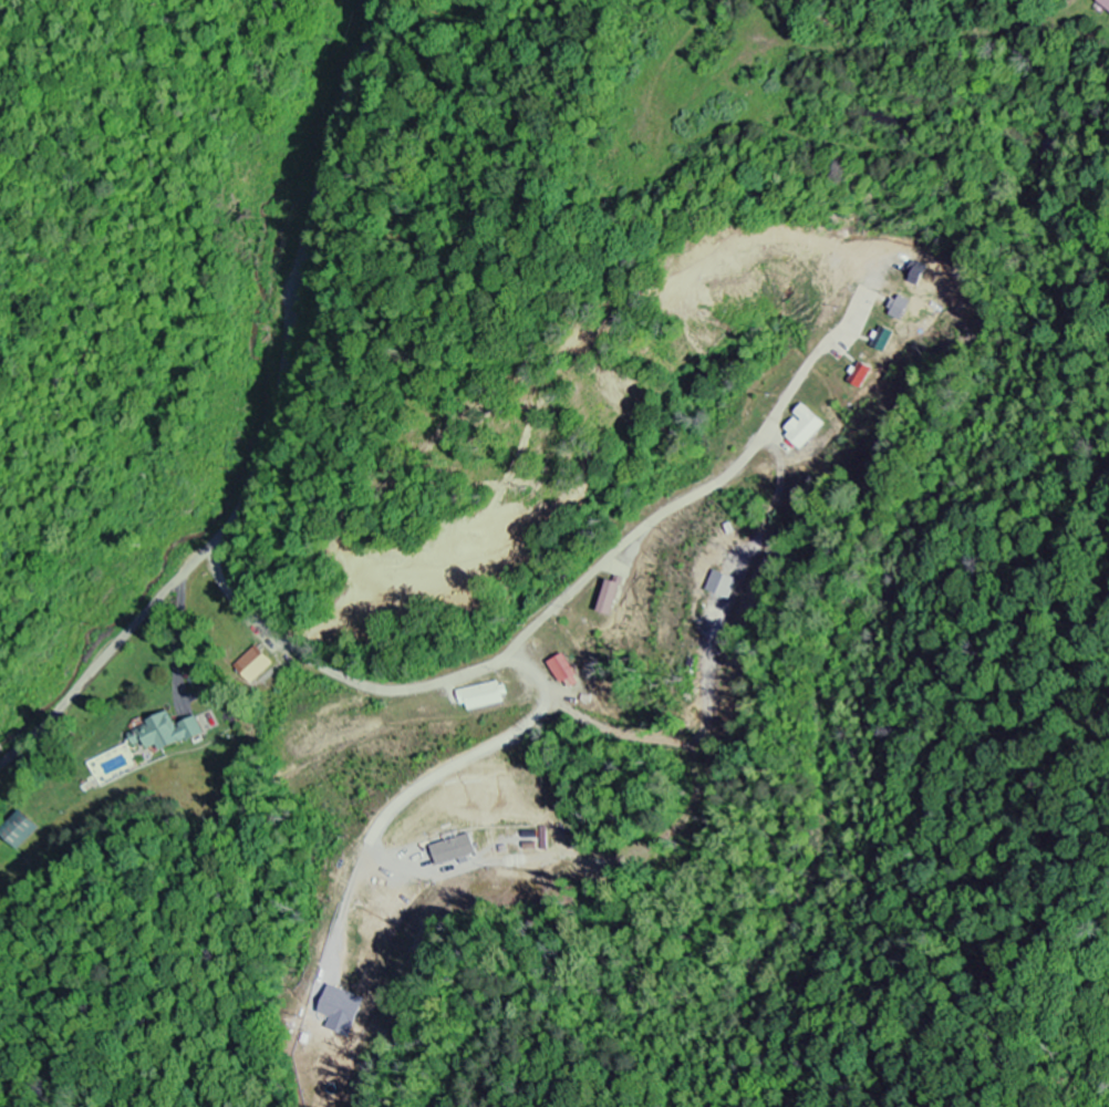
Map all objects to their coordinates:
building: (1106, 2)
building: (919, 273)
building: (902, 309)
building: (884, 340)
building: (864, 376)
road: (269, 425)
building: (807, 428)
building: (726, 587)
building: (613, 601)
building: (256, 665)
building: (566, 670)
building: (485, 697)
building: (169, 735)
building: (20, 830)
building: (457, 851)
building: (346, 1006)

